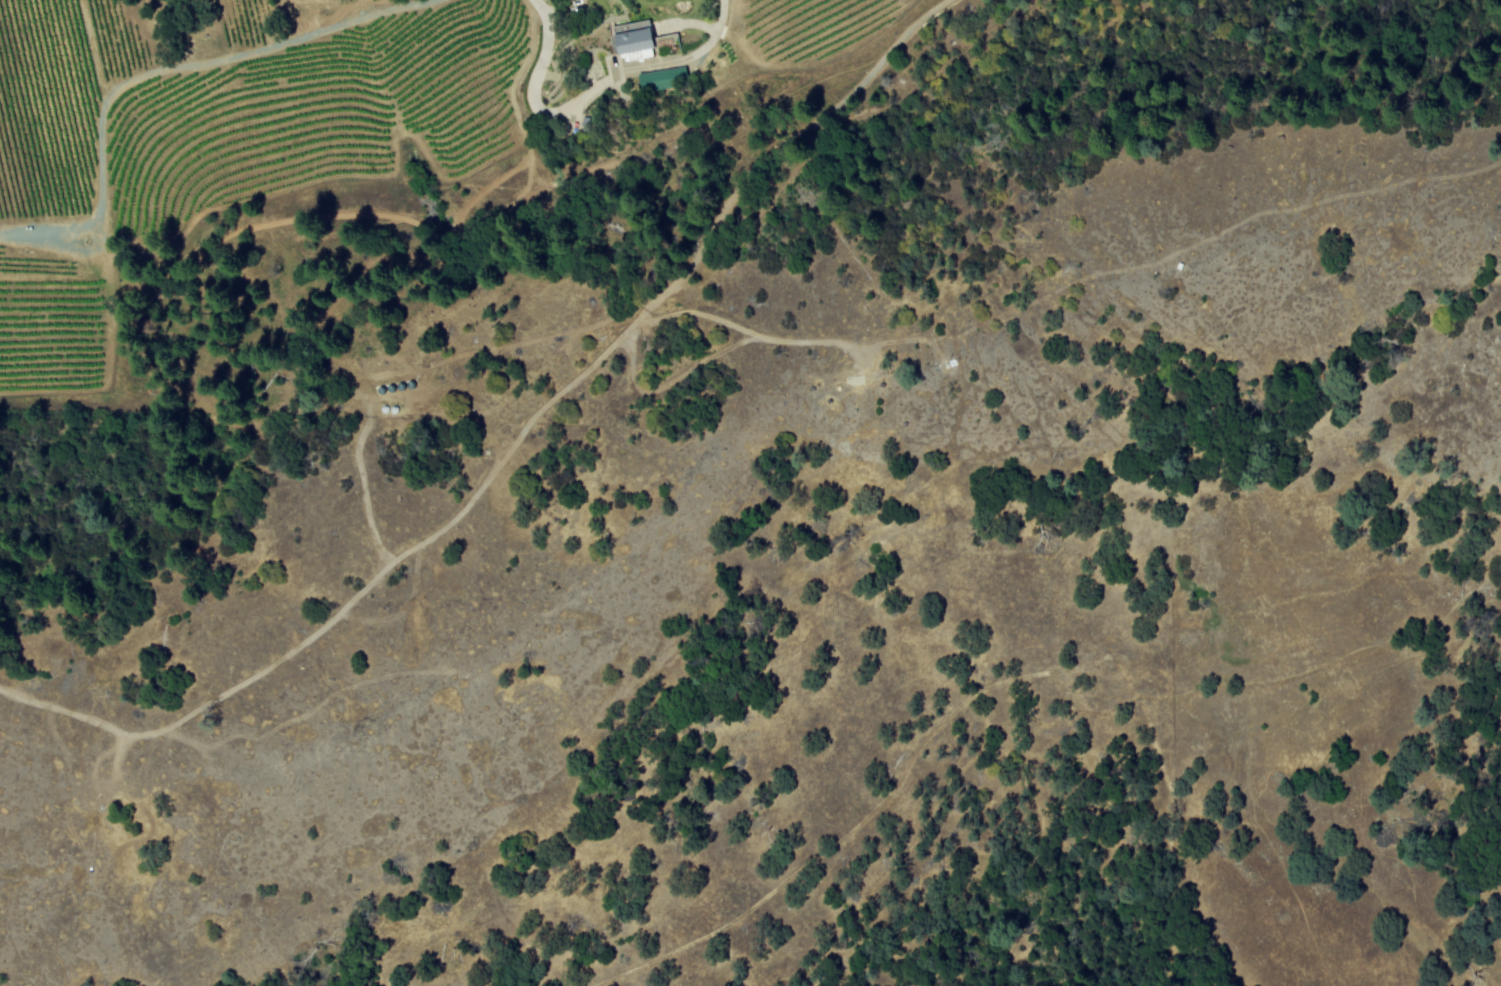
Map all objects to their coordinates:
building: (629, 42)
road: (90, 48)
road: (267, 48)
road: (540, 59)
road: (646, 67)
building: (663, 78)
road: (96, 205)

